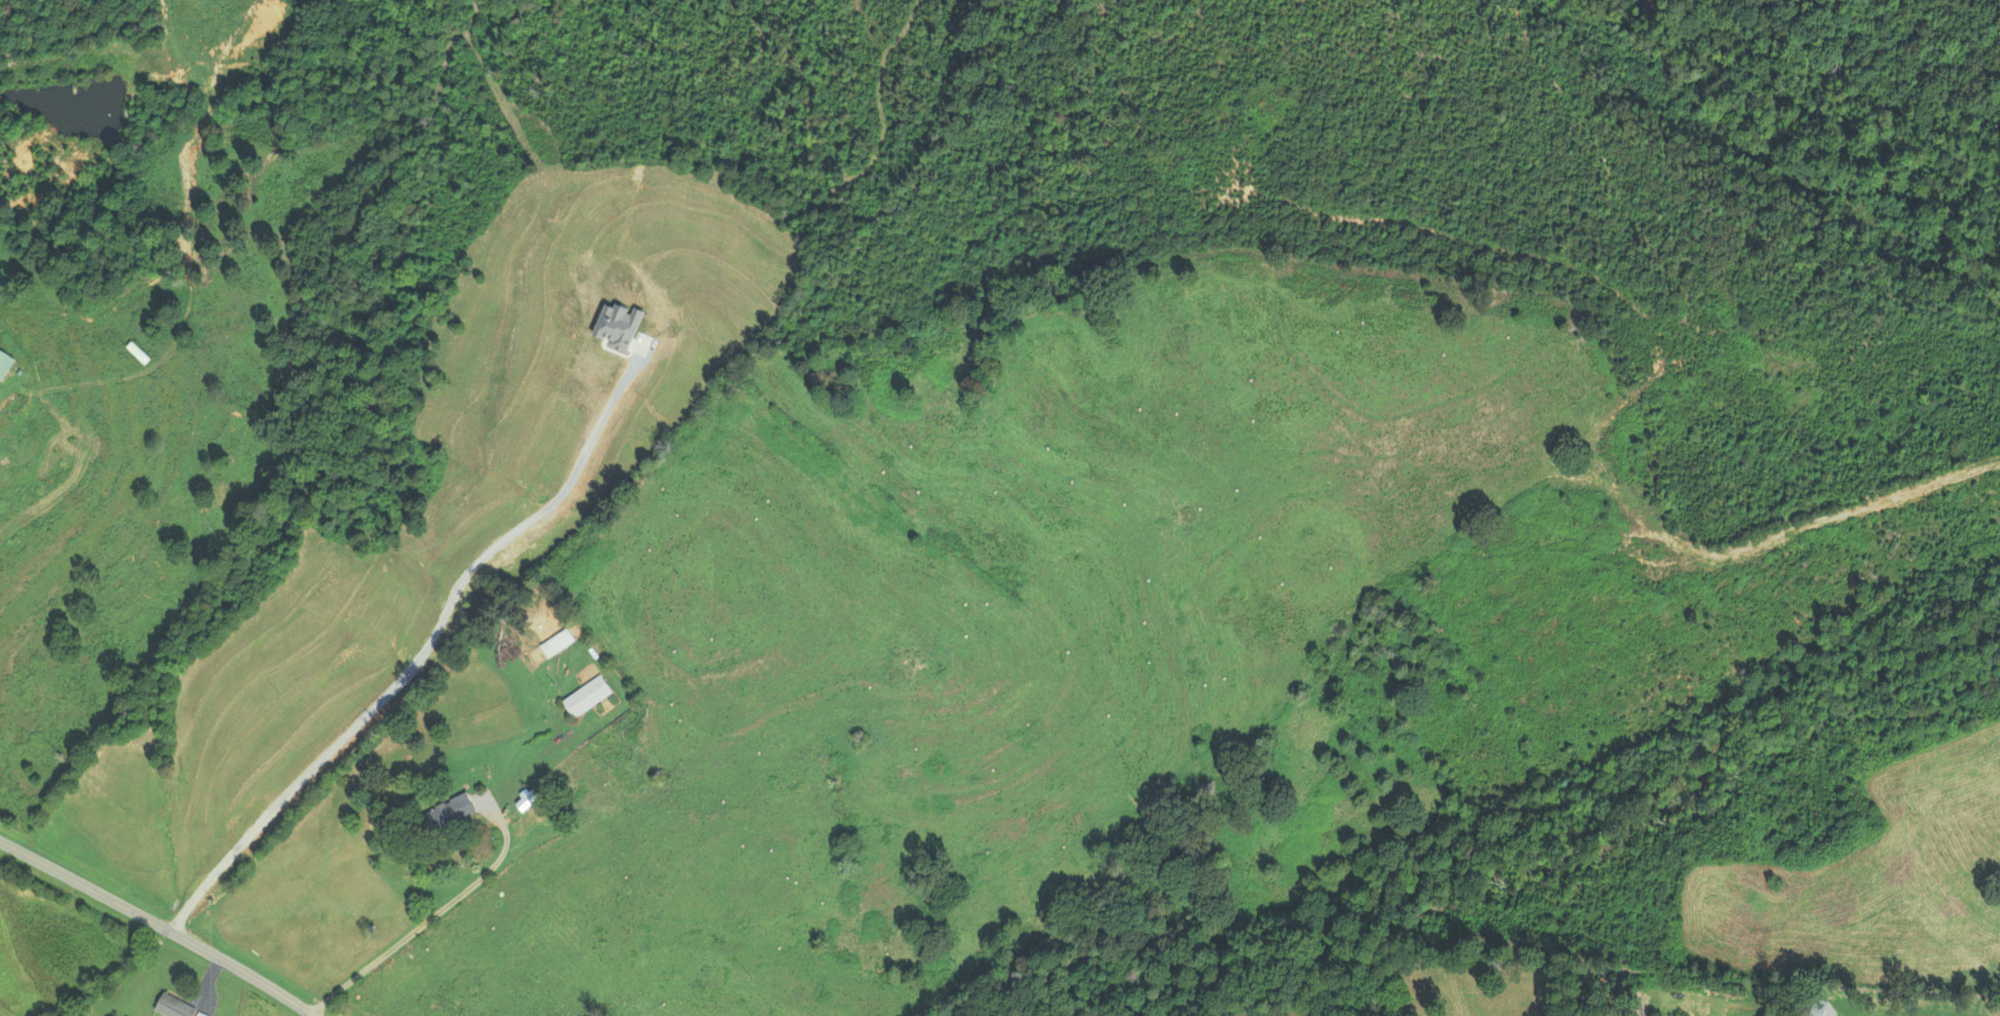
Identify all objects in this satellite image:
building: (136, 353)
building: (2, 362)
building: (554, 642)
road: (421, 655)
building: (584, 696)
building: (445, 812)
road: (435, 917)
road: (159, 924)
building: (180, 1006)

